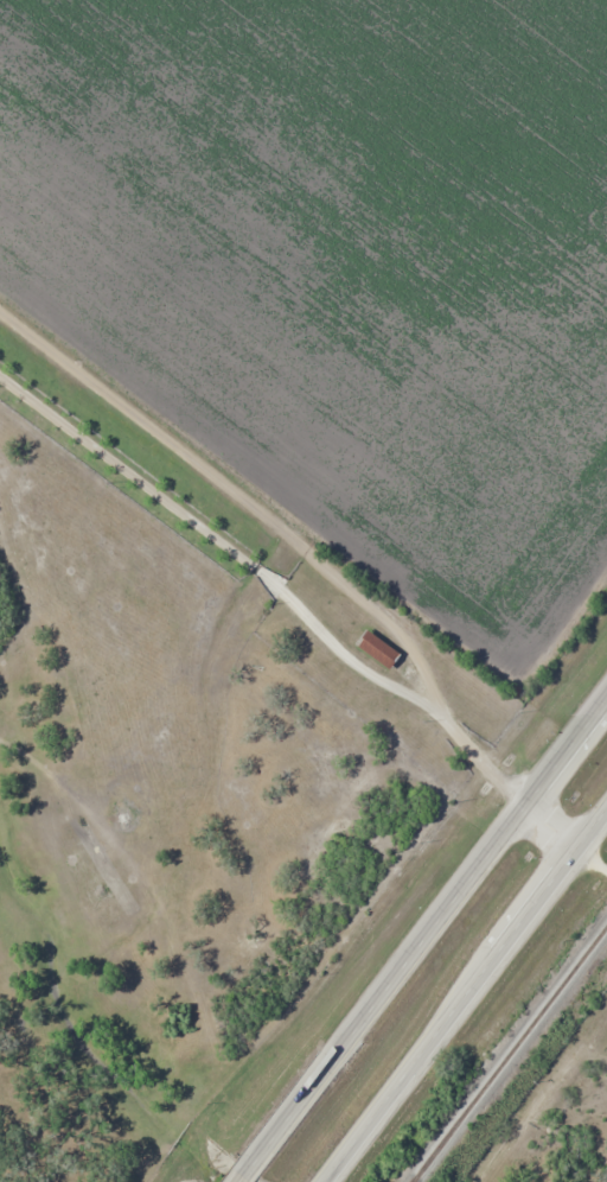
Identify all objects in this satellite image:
road: (283, 544)
building: (375, 650)
road: (552, 827)
road: (593, 862)
road: (423, 940)
road: (467, 998)
railway: (513, 1056)
road: (562, 1125)

